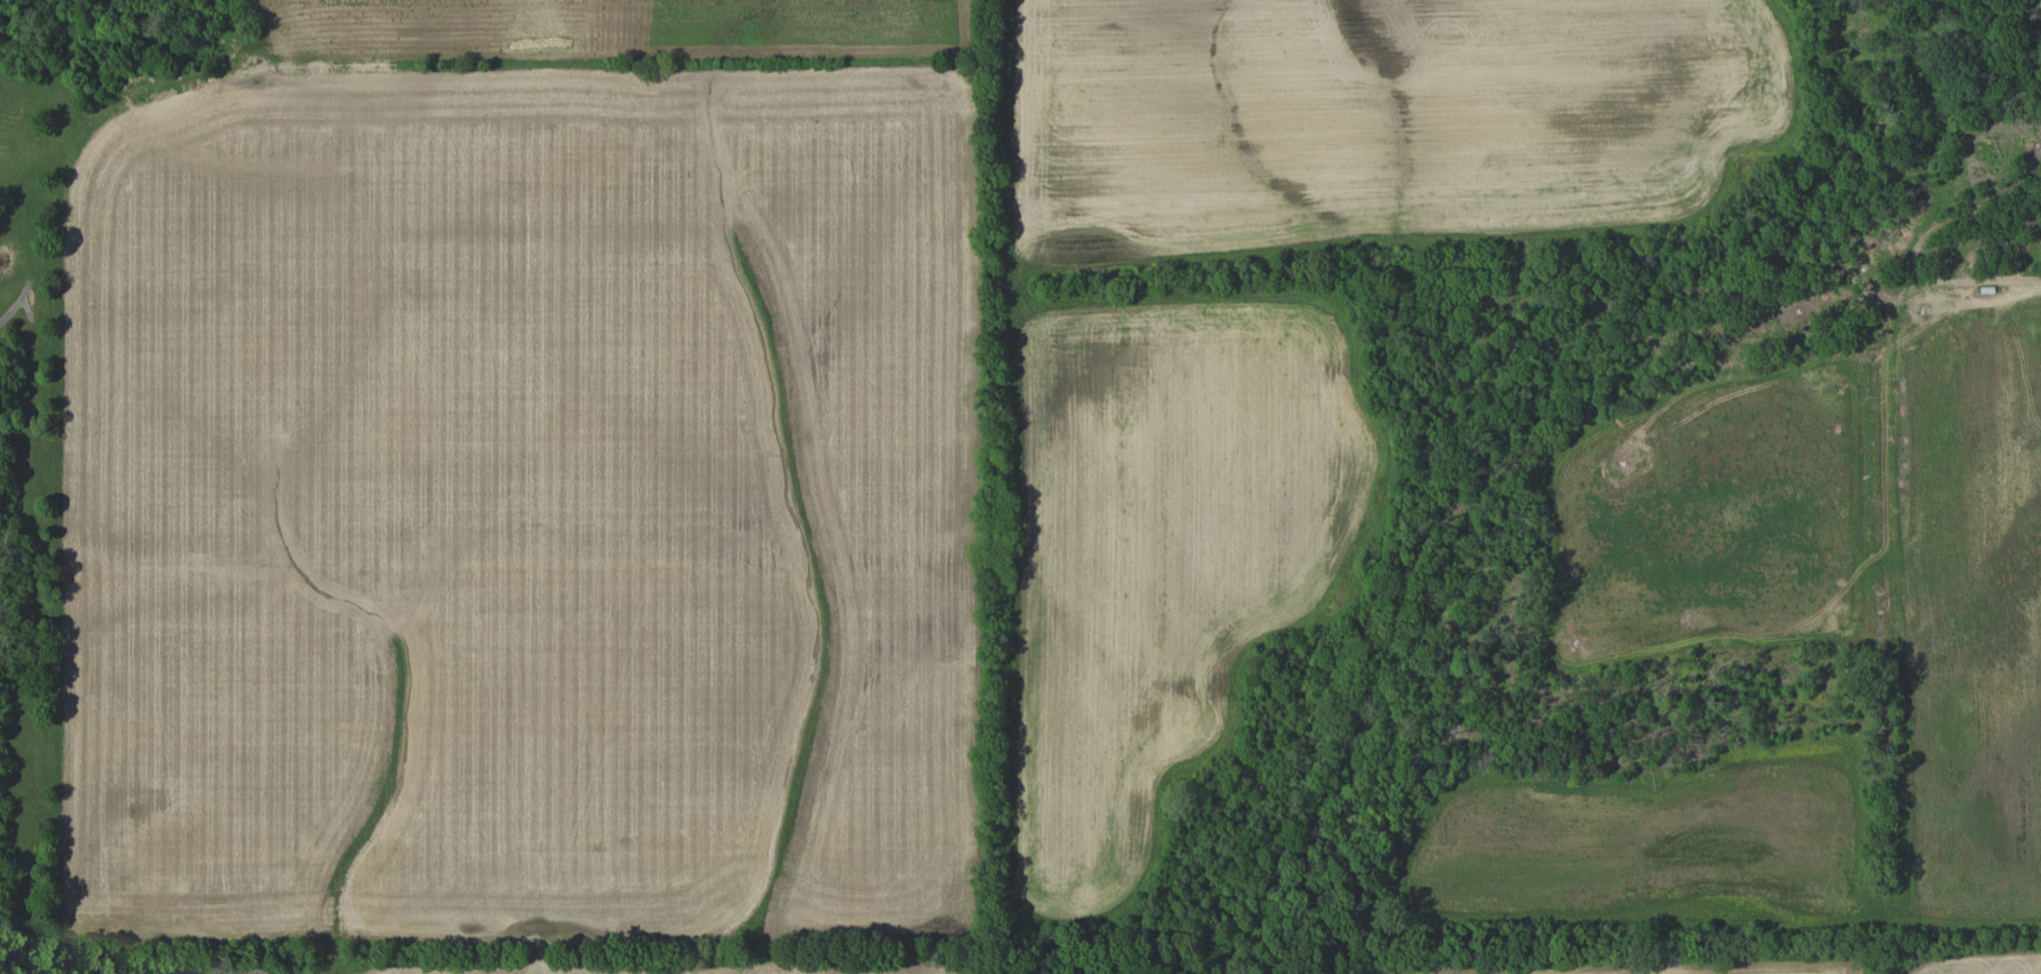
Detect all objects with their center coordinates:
road: (2000, 25)
road: (1821, 294)
road: (1965, 298)
parking lot: (2009, 299)
park: (1517, 469)
parking lot: (1634, 514)
parking lot: (1653, 560)
road: (1599, 586)
building: (1717, 600)
road: (1602, 638)
road: (1597, 650)

